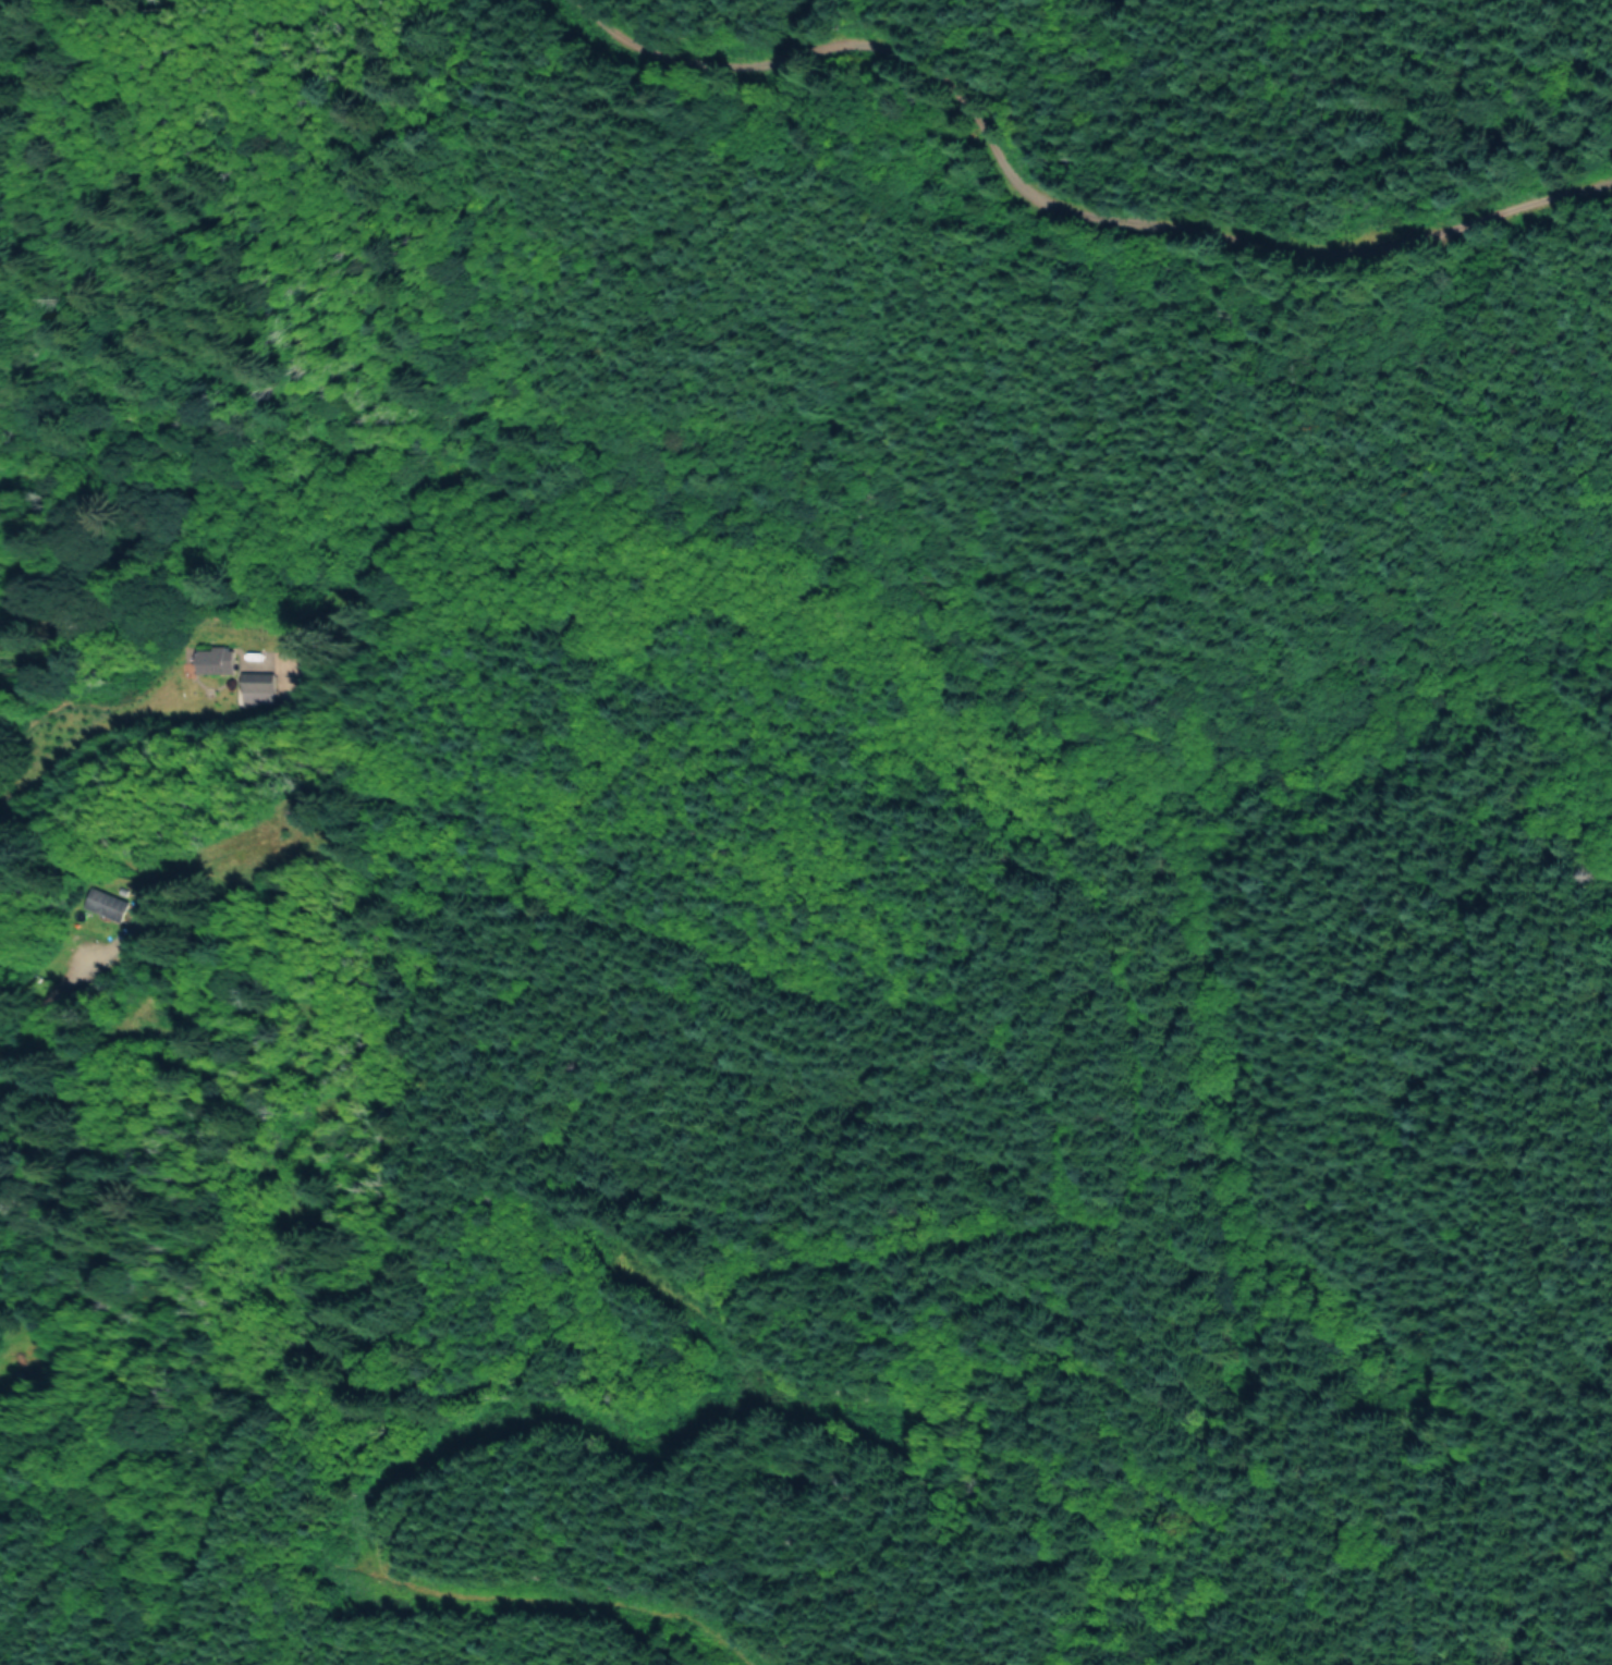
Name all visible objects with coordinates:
road: (938, 319)
building: (213, 659)
building: (254, 686)
building: (106, 902)
road: (433, 1186)
road: (587, 1543)

